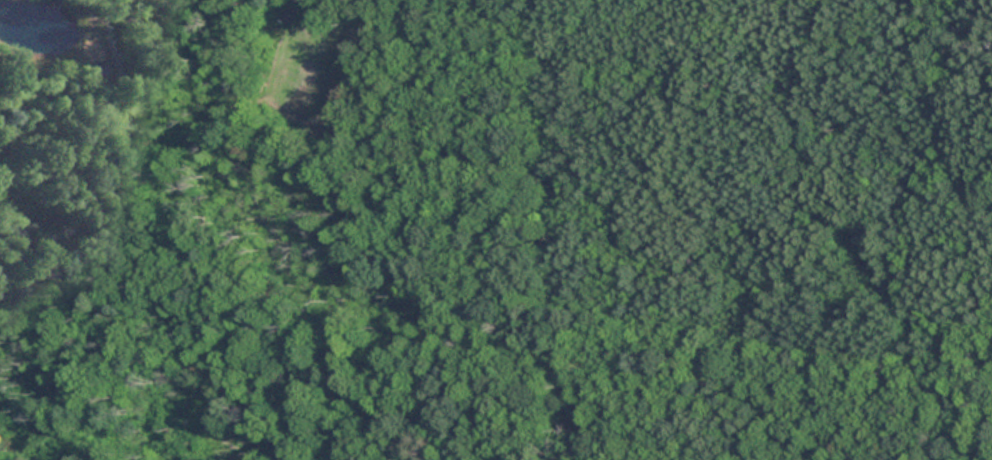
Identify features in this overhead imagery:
park: (526, 221)

